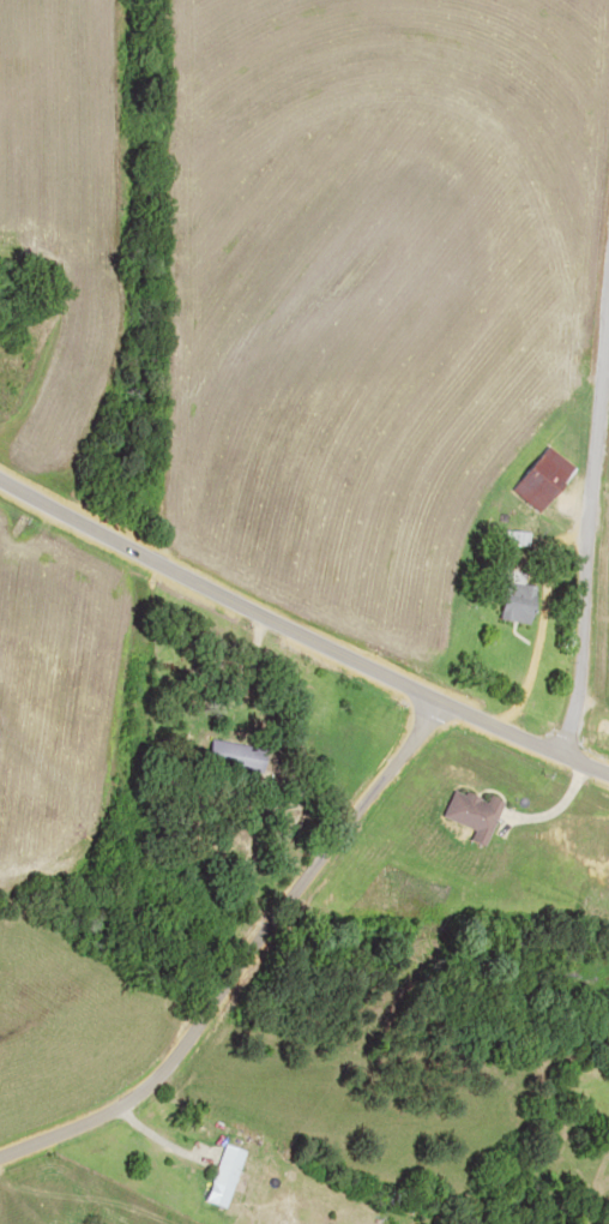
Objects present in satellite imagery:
building: (538, 478)
building: (511, 536)
road: (589, 577)
building: (509, 596)
road: (304, 646)
building: (230, 755)
building: (469, 814)
road: (243, 979)
building: (221, 1175)

